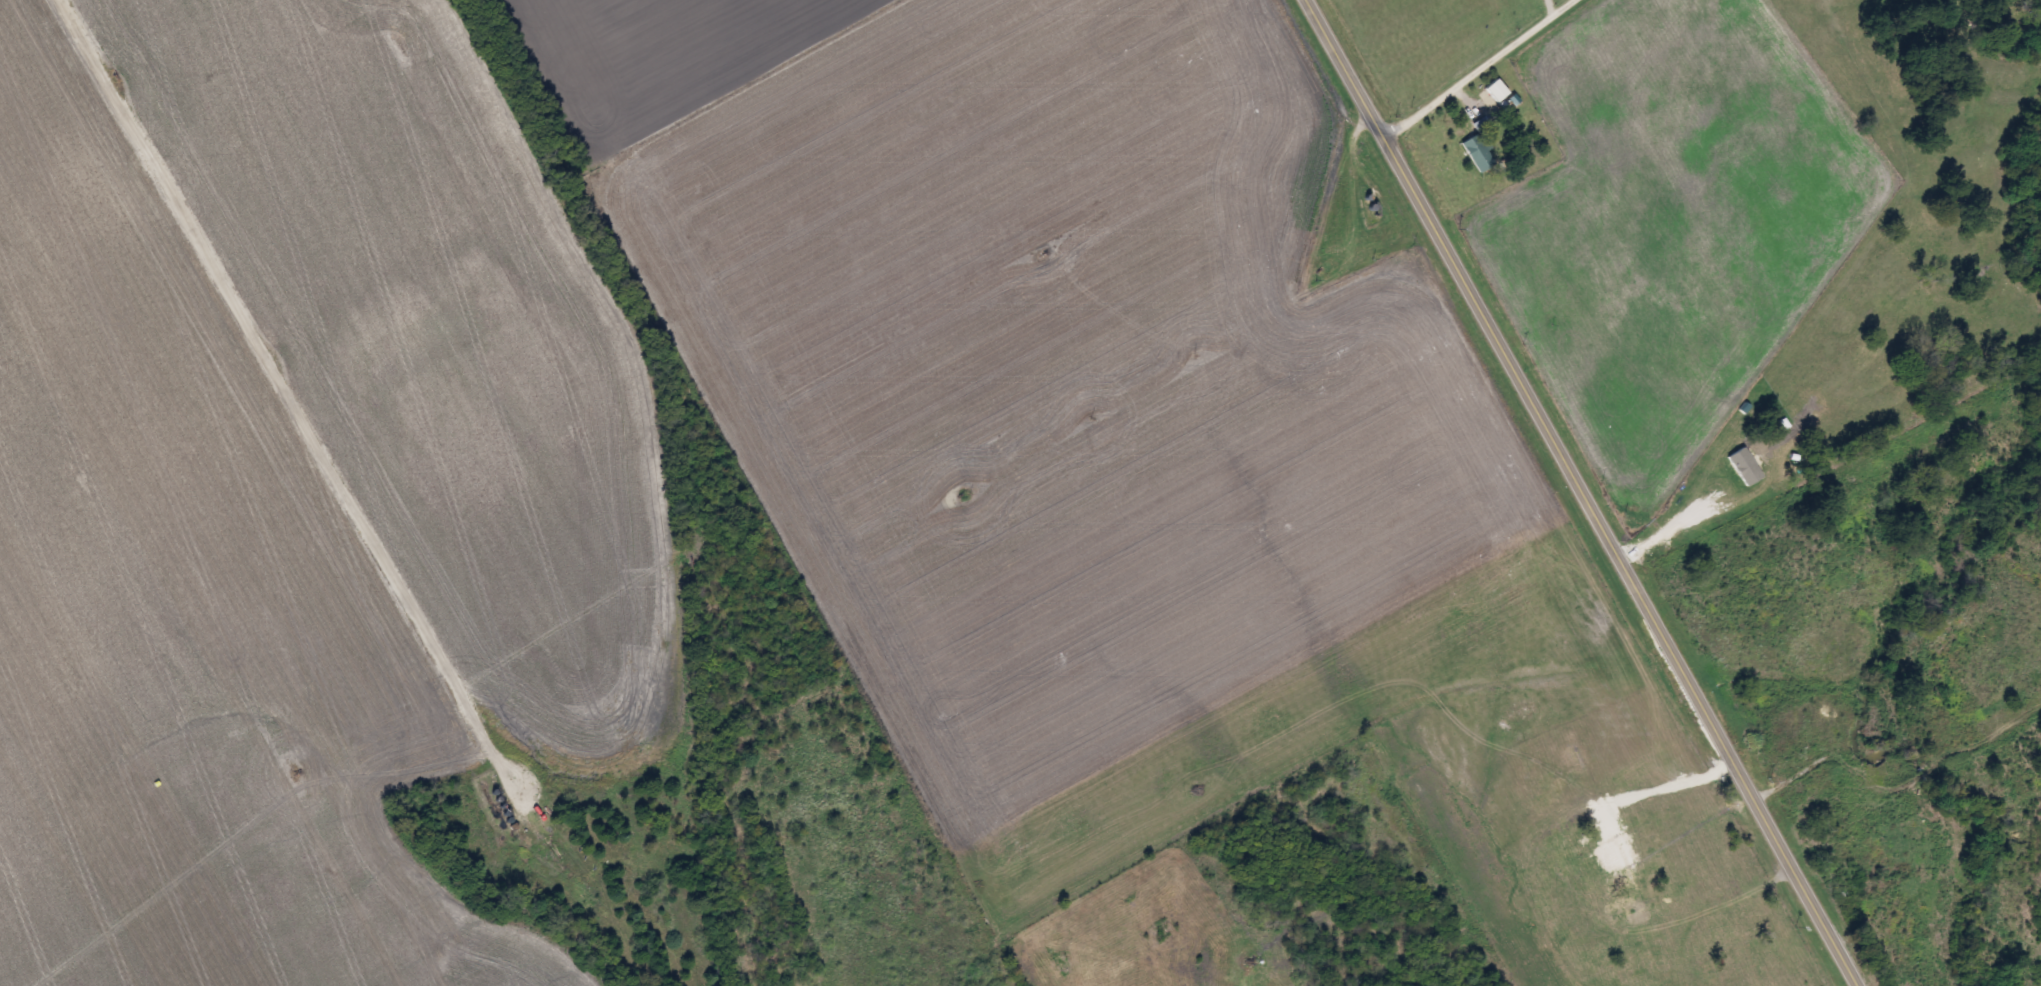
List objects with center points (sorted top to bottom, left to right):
road: (1469, 67)
building: (1493, 92)
building: (1476, 153)
road: (288, 388)
road: (1585, 493)
building: (1578, 759)

